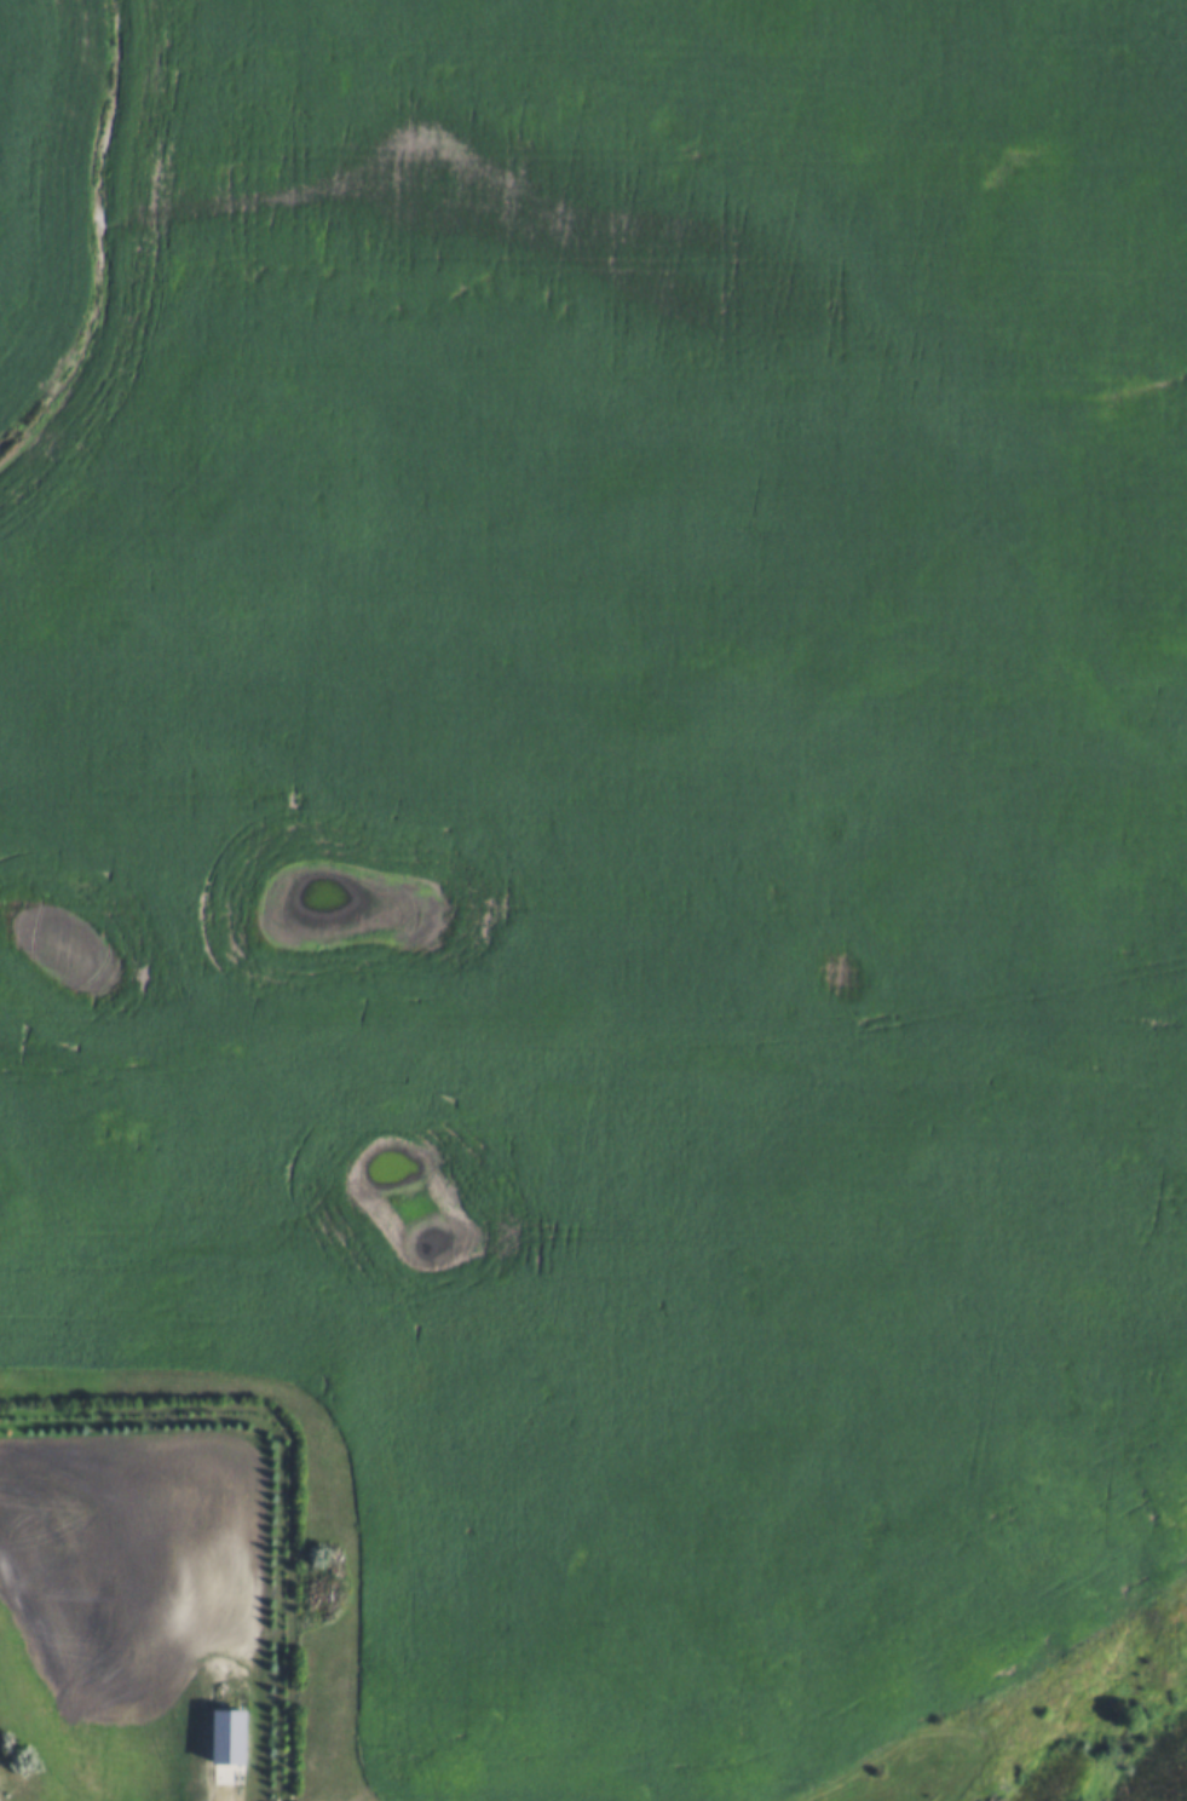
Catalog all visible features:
building: (224, 1733)

